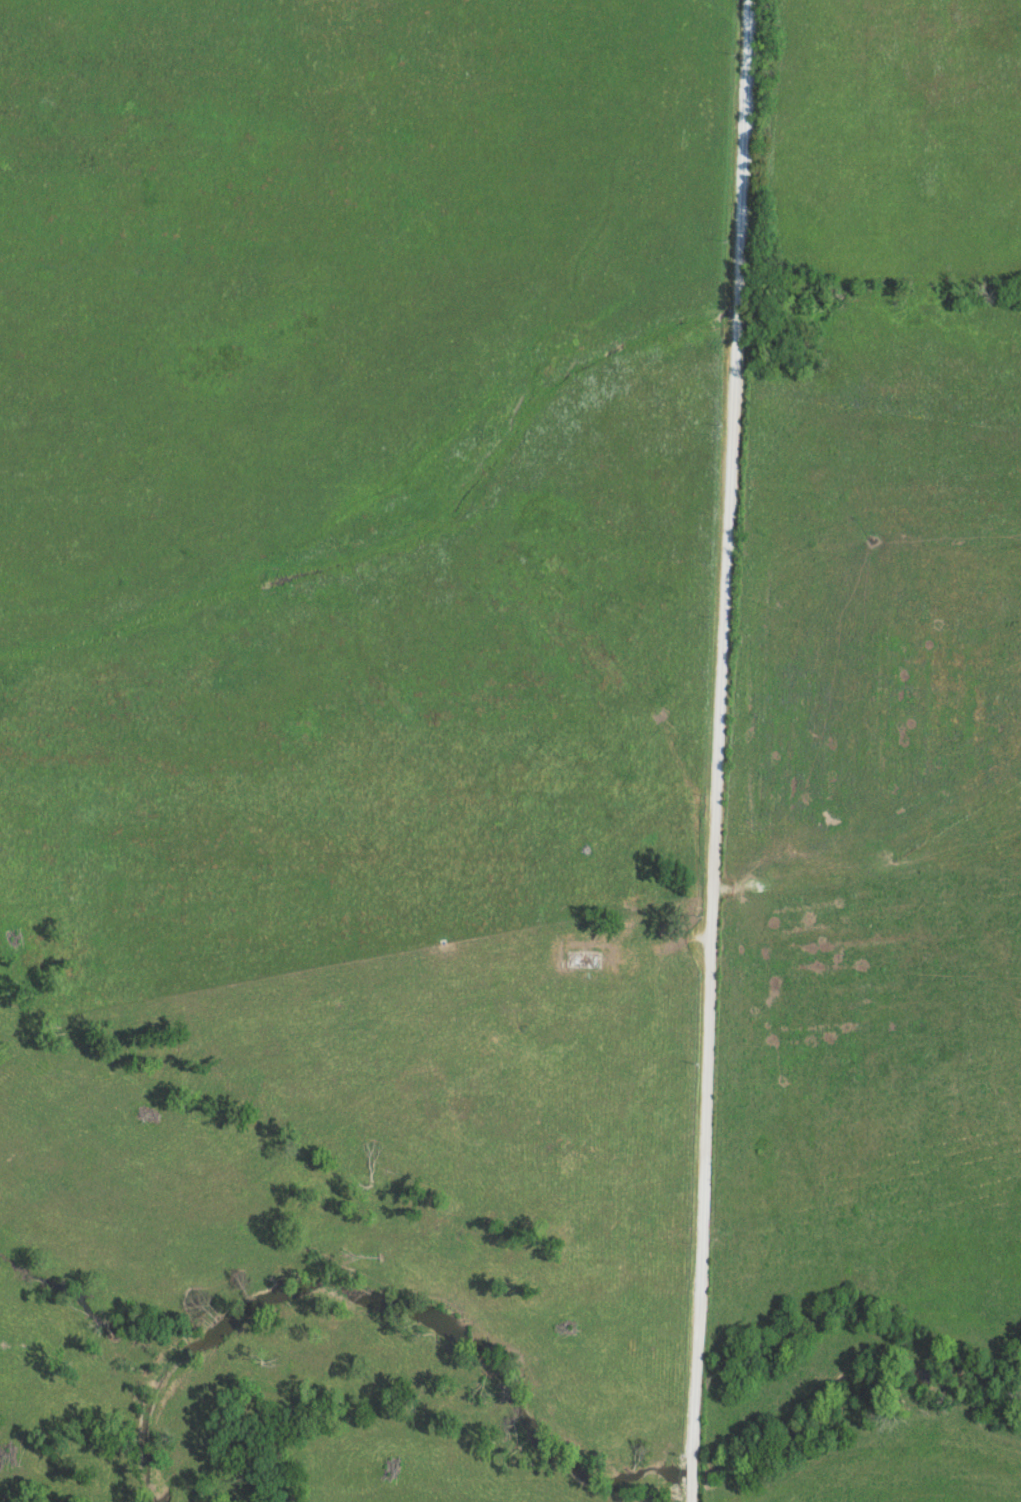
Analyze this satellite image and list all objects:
road: (716, 731)
building: (575, 957)
road: (689, 1475)
road: (688, 1494)

